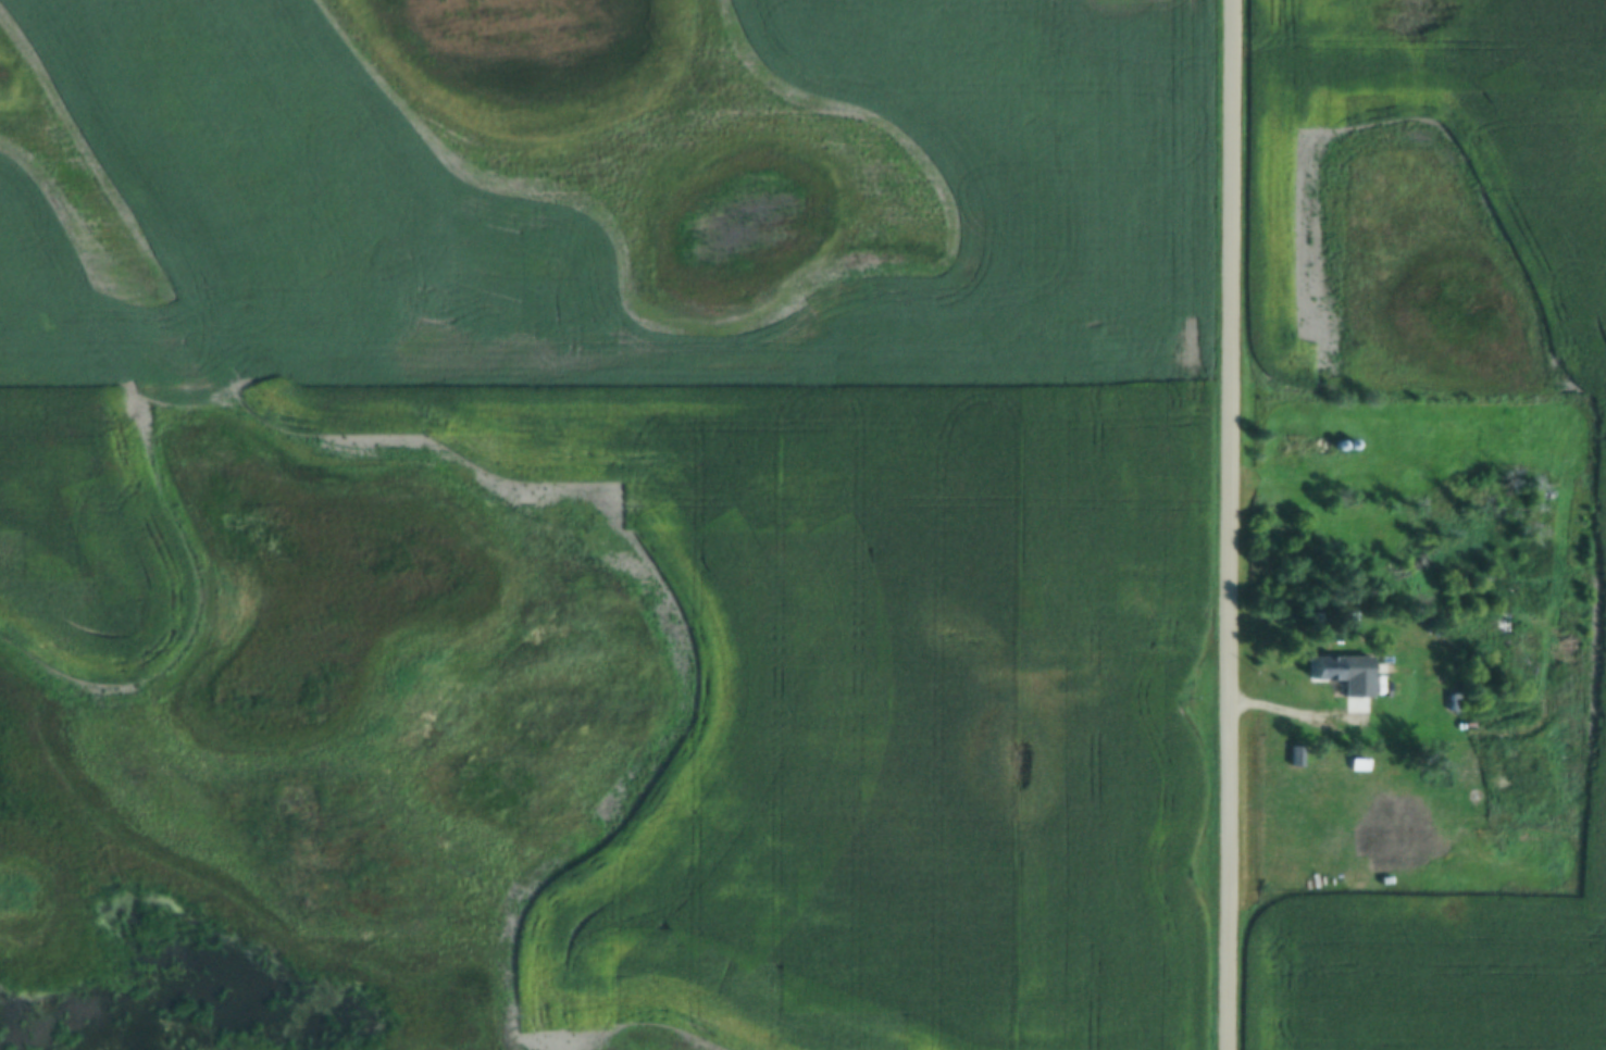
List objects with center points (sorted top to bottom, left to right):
road: (1235, 525)
building: (1339, 674)
road: (1302, 713)
building: (1485, 747)
building: (1387, 817)

